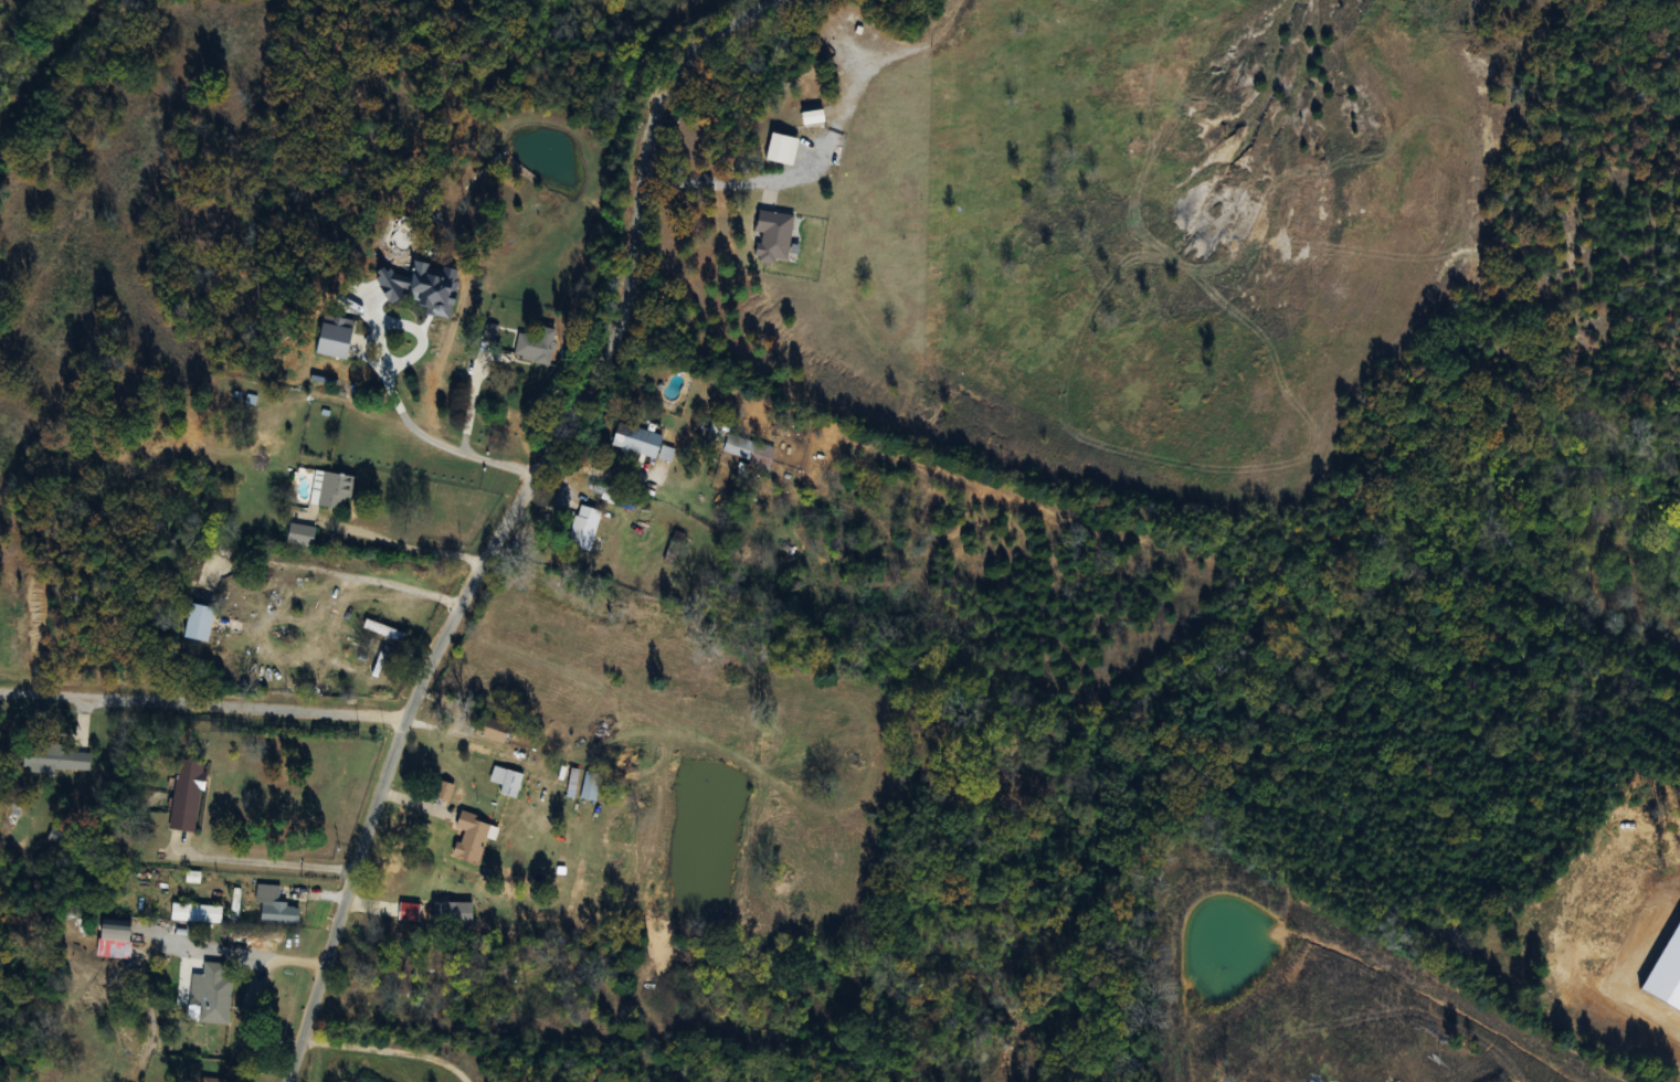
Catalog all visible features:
road: (825, 139)
building: (780, 148)
building: (772, 235)
building: (437, 261)
building: (488, 332)
building: (531, 348)
building: (635, 439)
road: (464, 441)
building: (747, 449)
building: (665, 454)
building: (329, 490)
road: (510, 515)
building: (582, 528)
building: (298, 535)
road: (388, 540)
building: (670, 550)
building: (197, 622)
building: (385, 632)
road: (202, 707)
building: (489, 729)
building: (55, 759)
building: (505, 779)
building: (564, 781)
building: (589, 785)
building: (442, 789)
building: (186, 794)
building: (469, 836)
road: (264, 858)
building: (274, 906)
building: (194, 912)
building: (114, 930)
road: (250, 946)
building: (412, 967)
building: (506, 972)
building: (210, 994)
road: (391, 1046)
building: (210, 1080)

